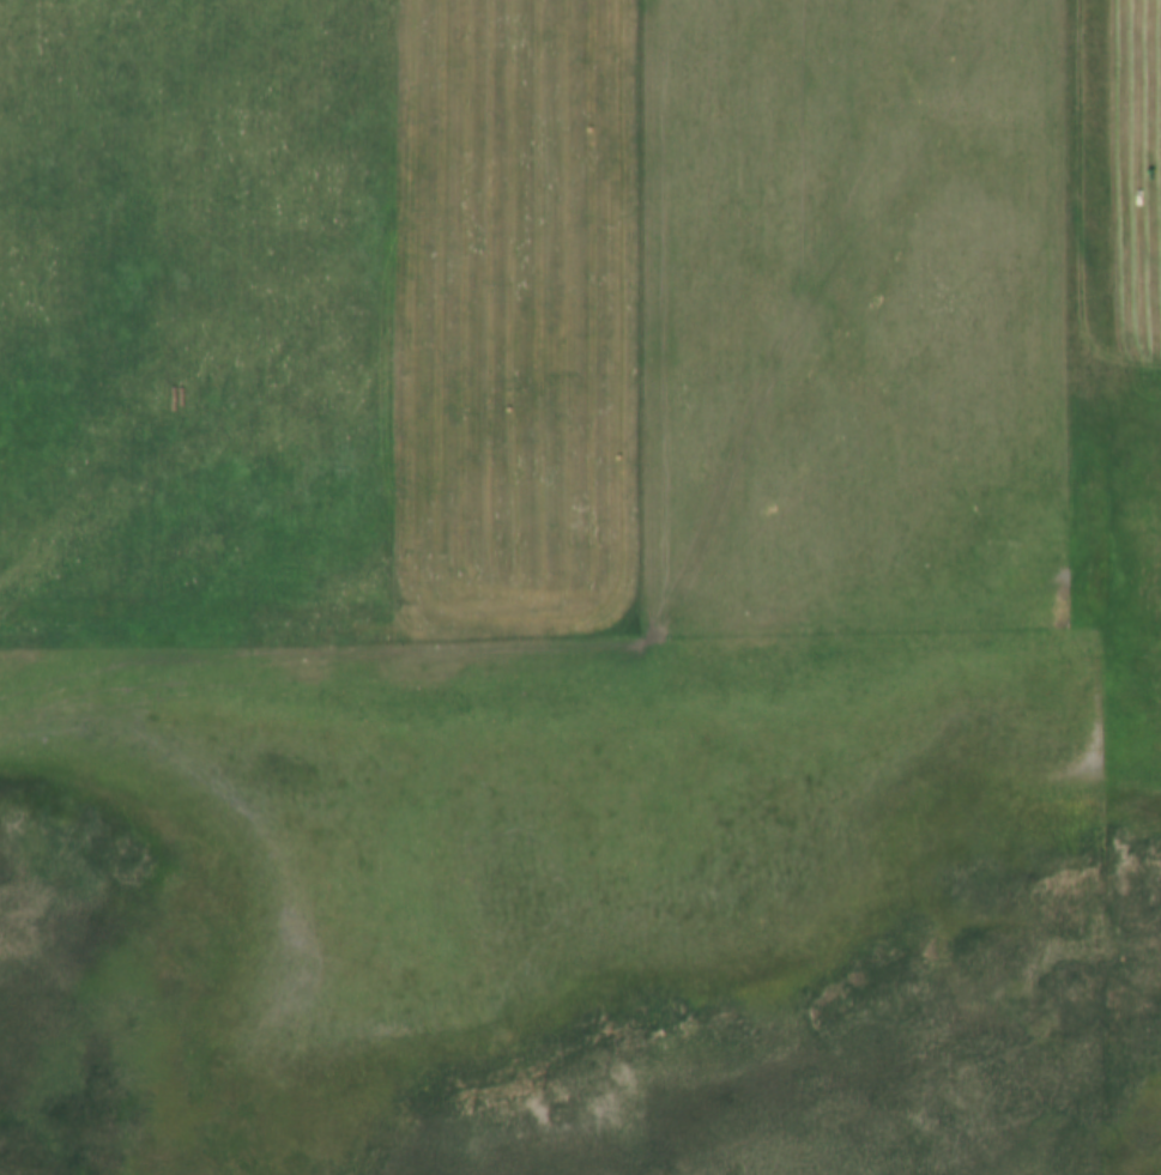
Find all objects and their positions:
road: (1097, 308)

